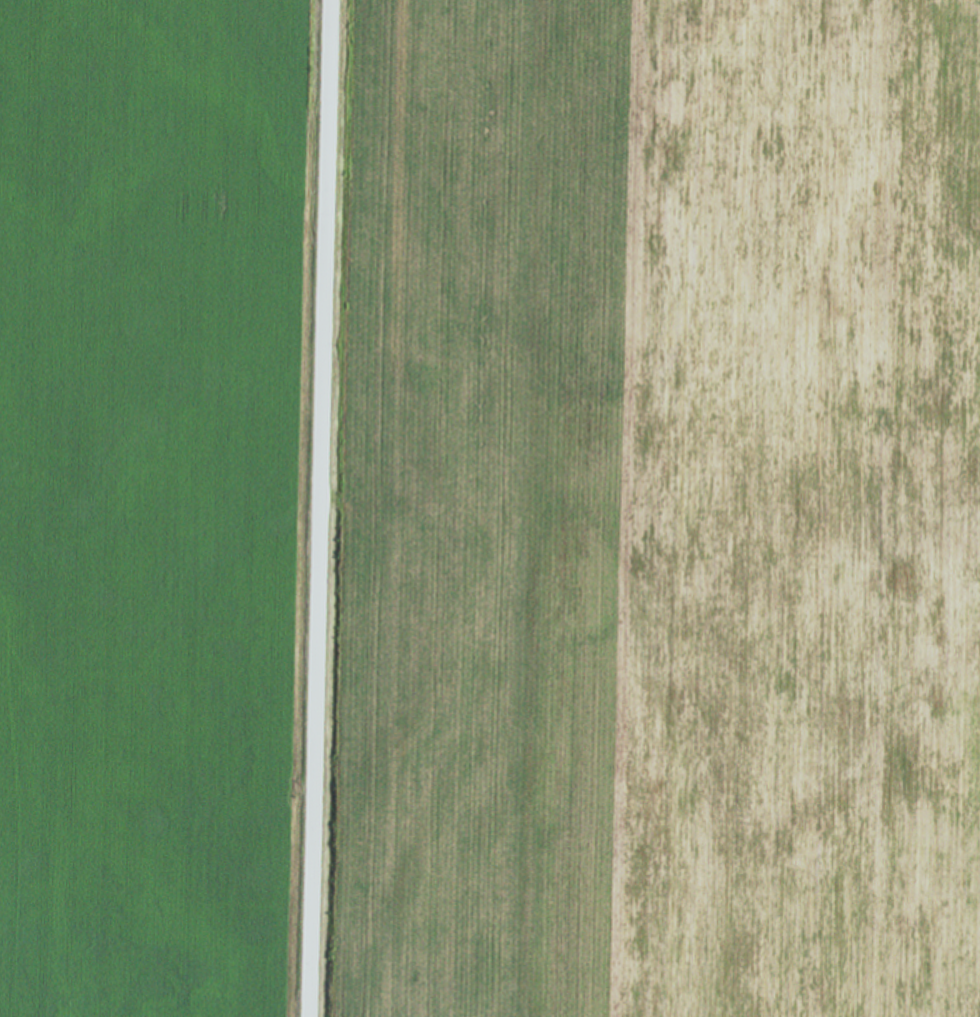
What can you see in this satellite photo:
road: (323, 508)

